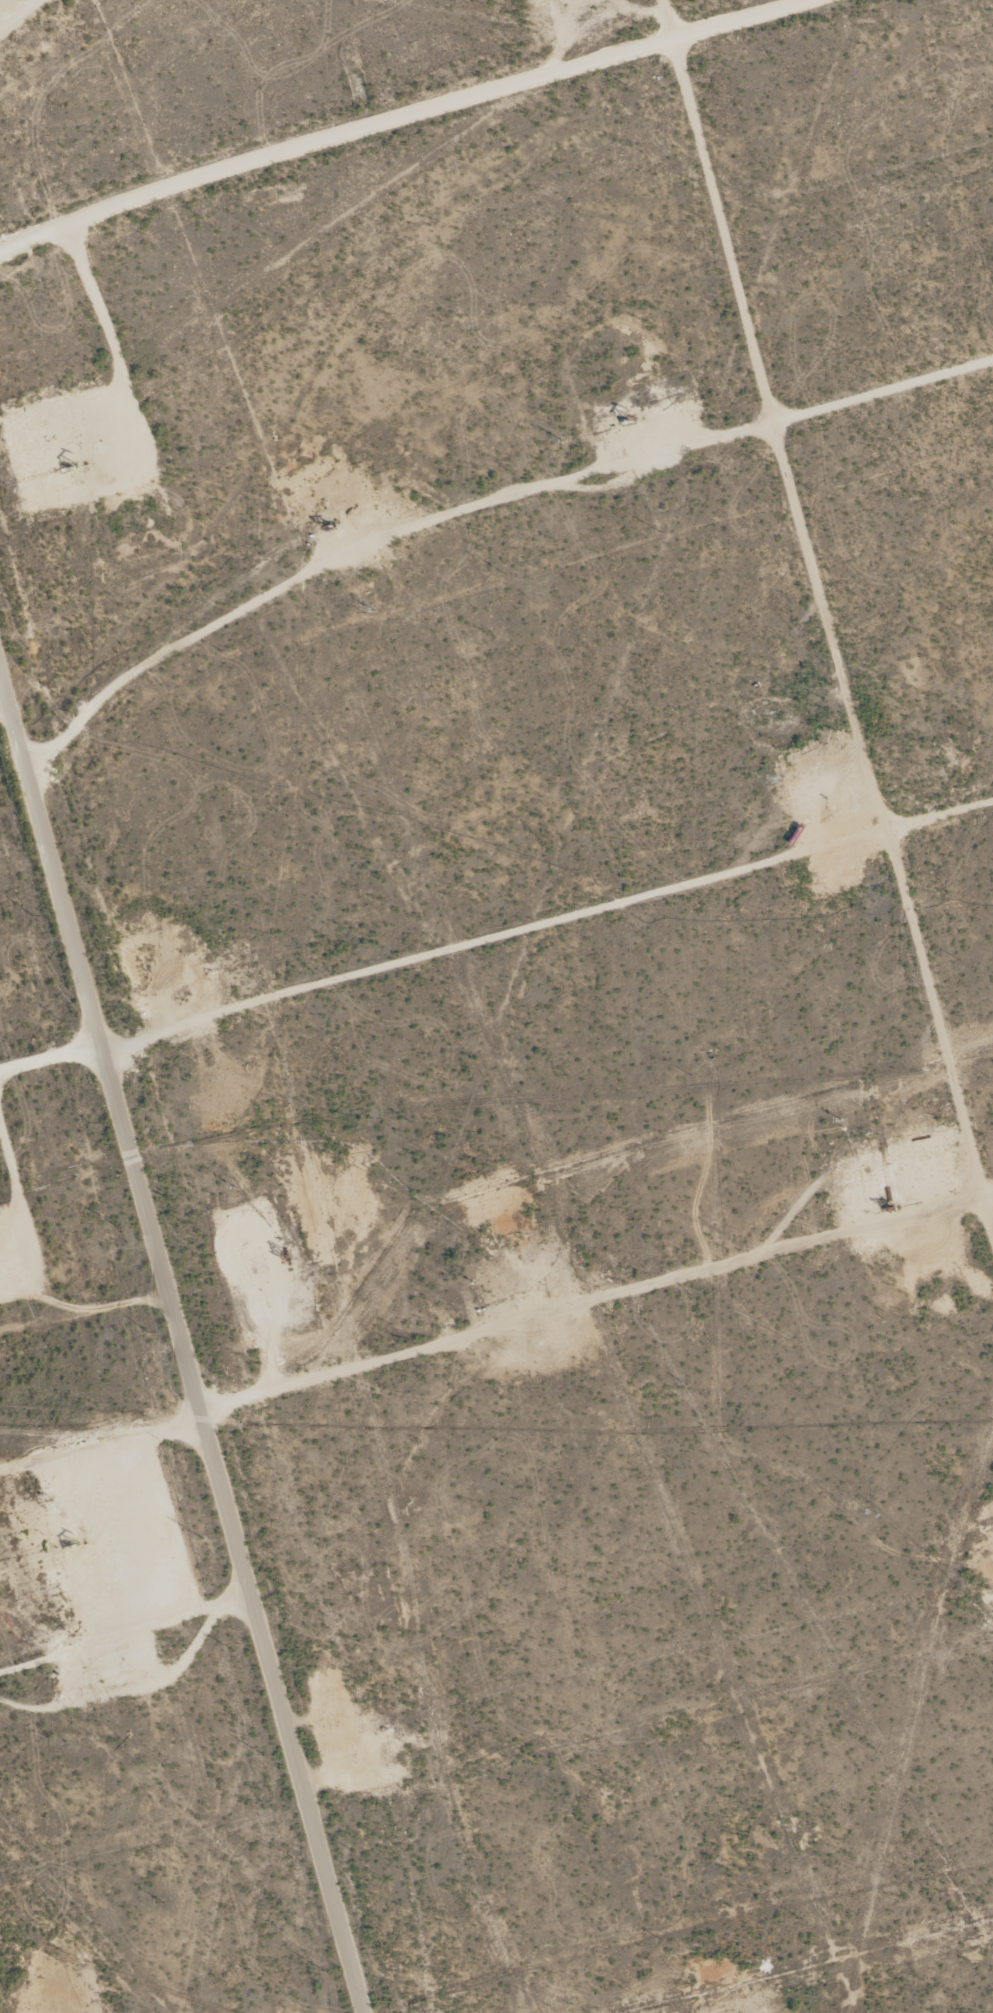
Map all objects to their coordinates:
road: (22, 13)
road: (413, 125)
road: (182, 1345)

